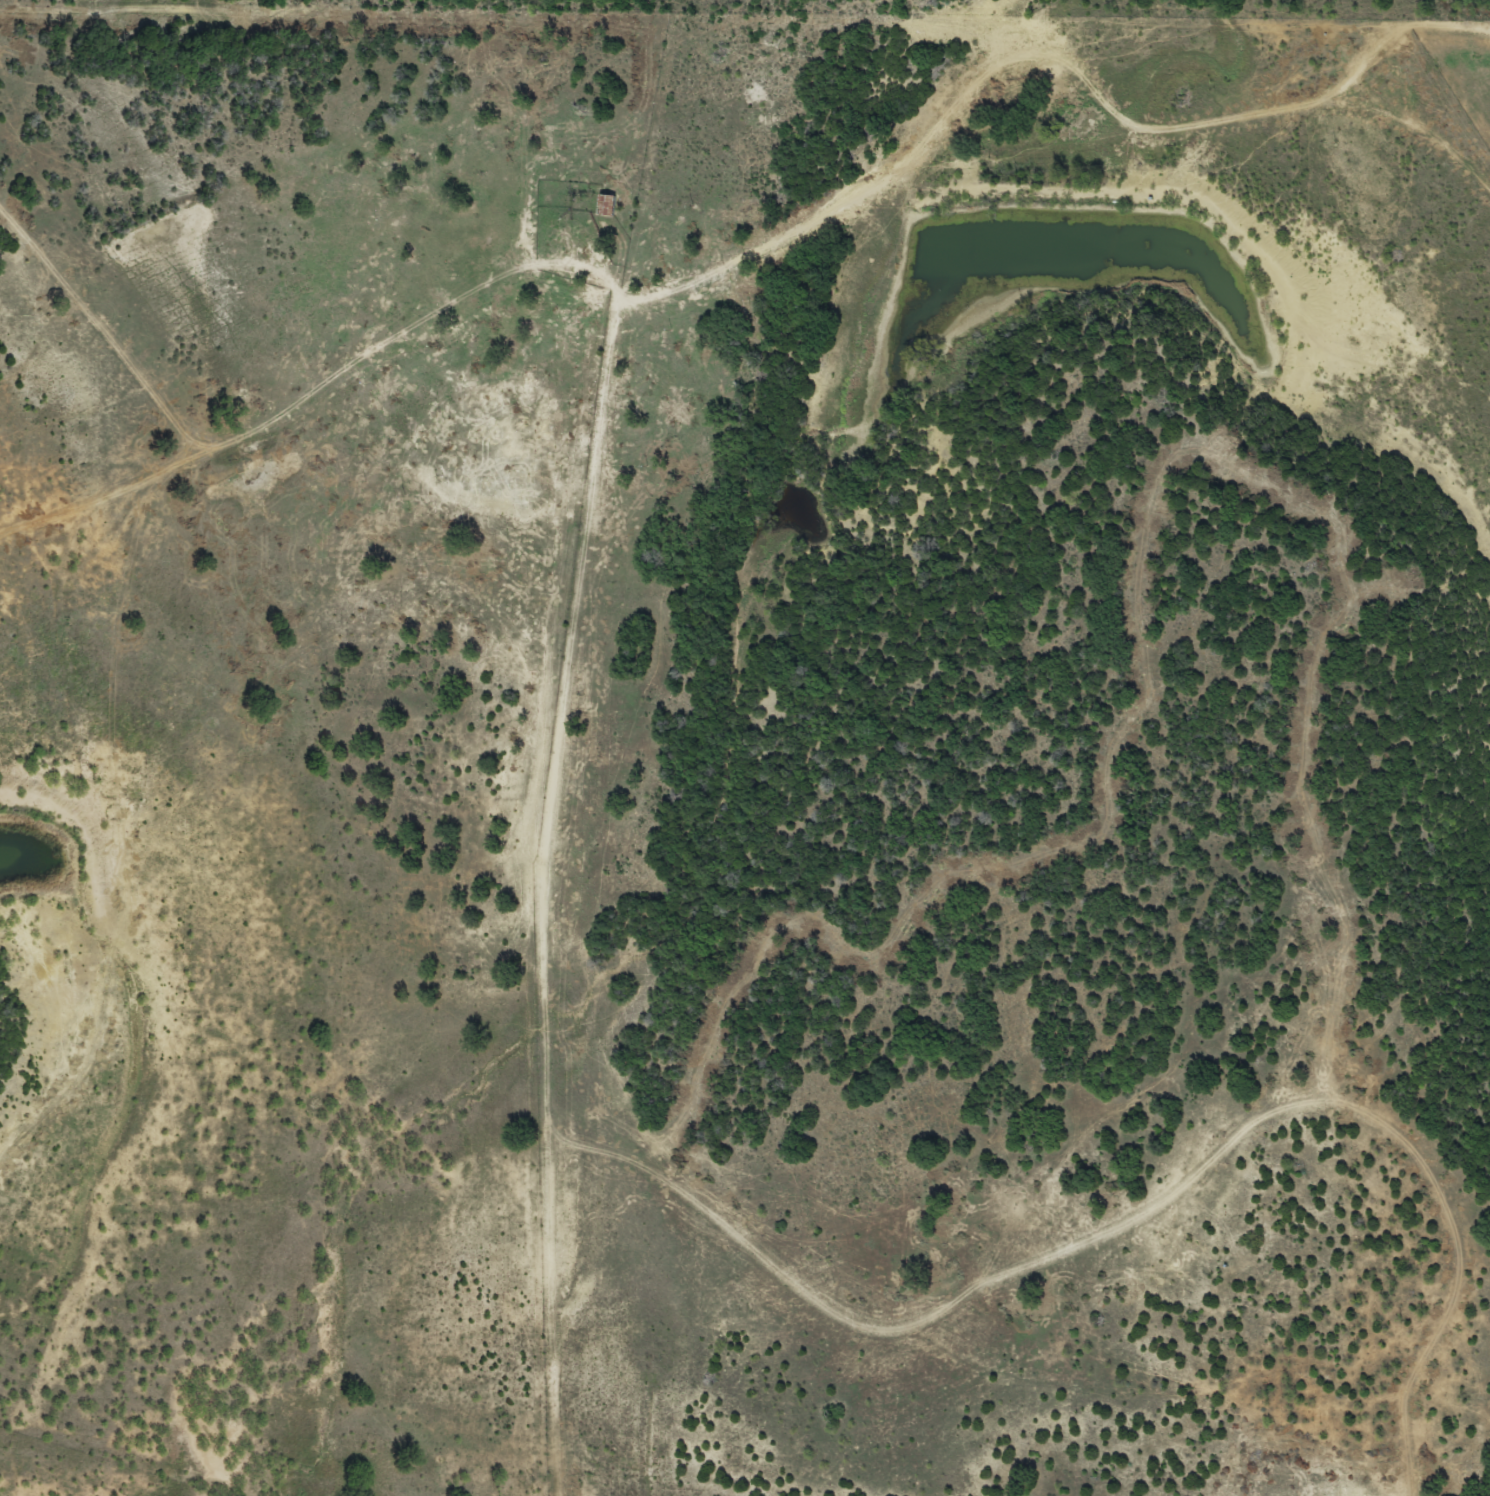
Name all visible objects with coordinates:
road: (1461, 81)
road: (1051, 111)
building: (605, 207)
road: (501, 372)
road: (646, 401)

